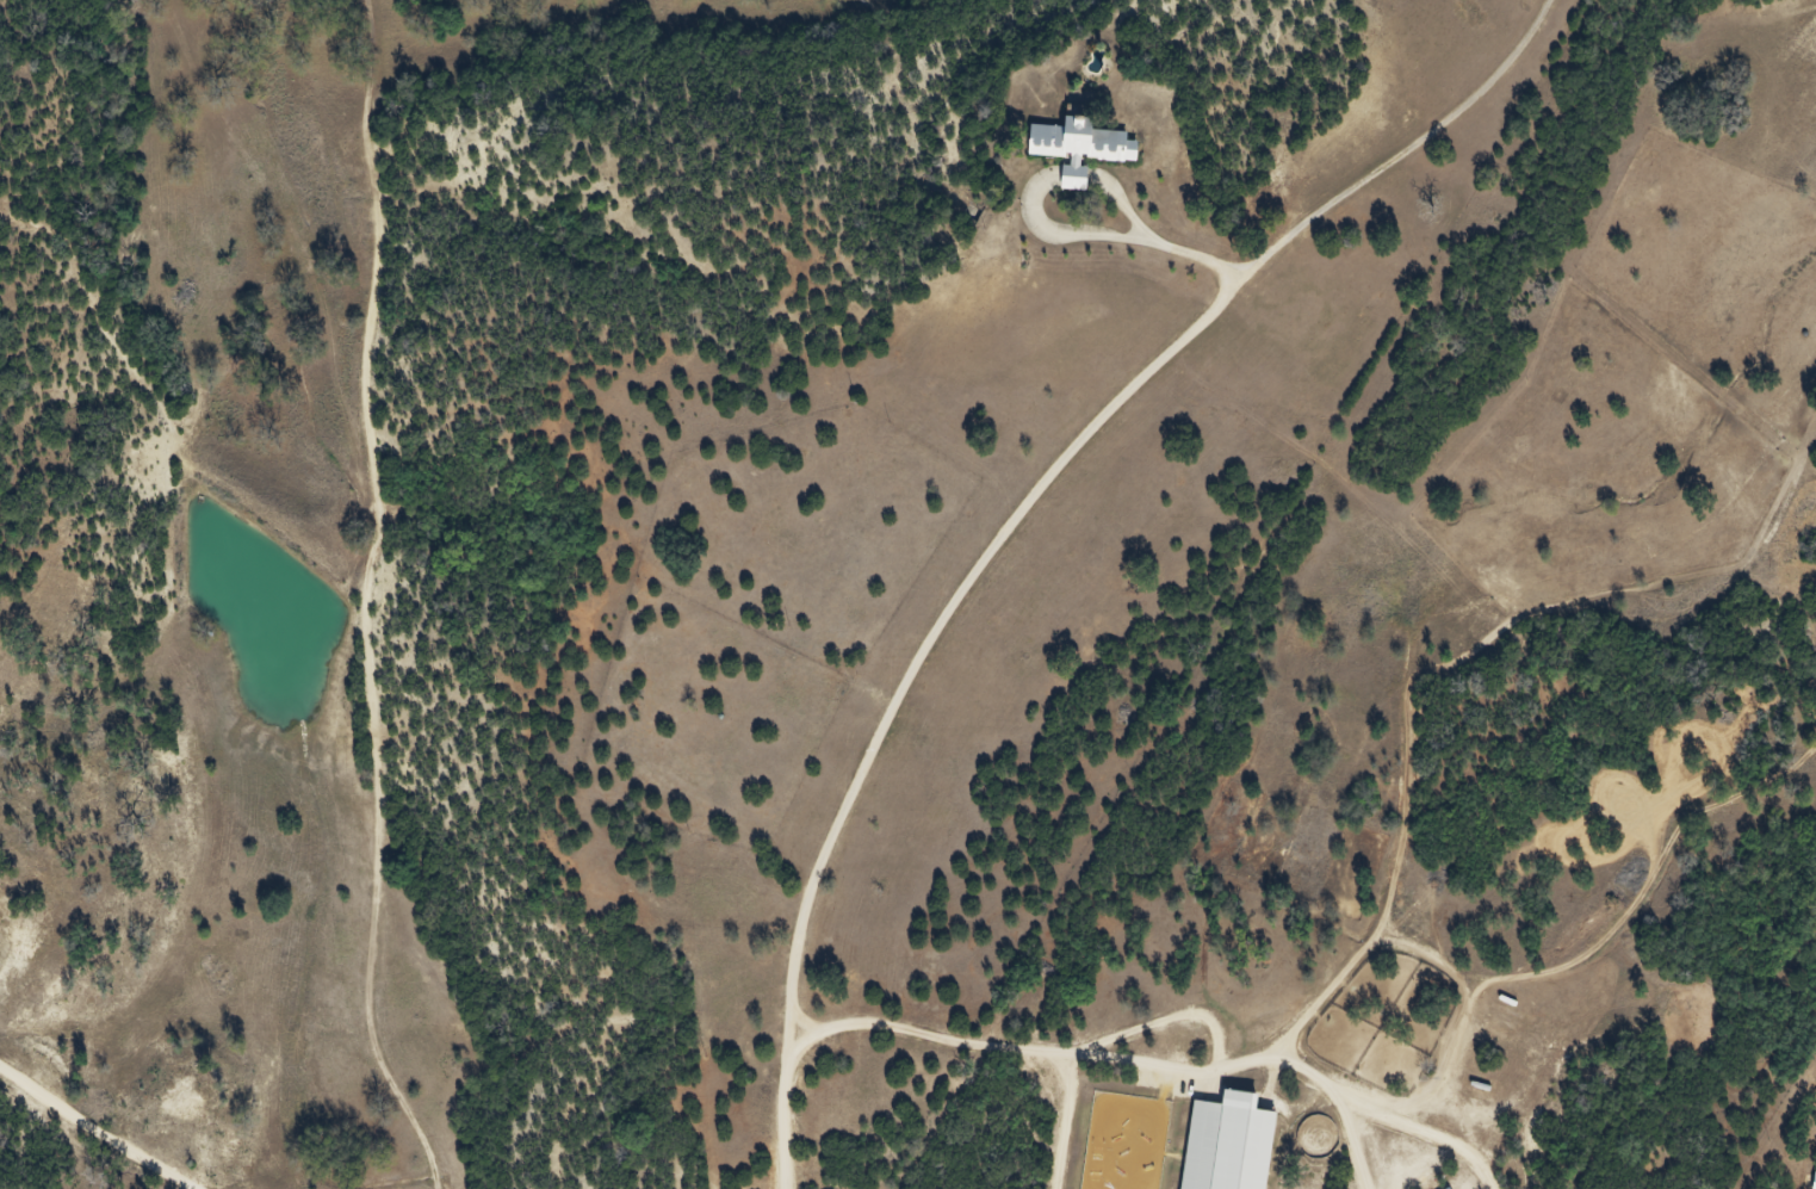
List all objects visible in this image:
building: (1070, 153)
road: (962, 1042)
road: (1328, 1090)
road: (95, 1141)

